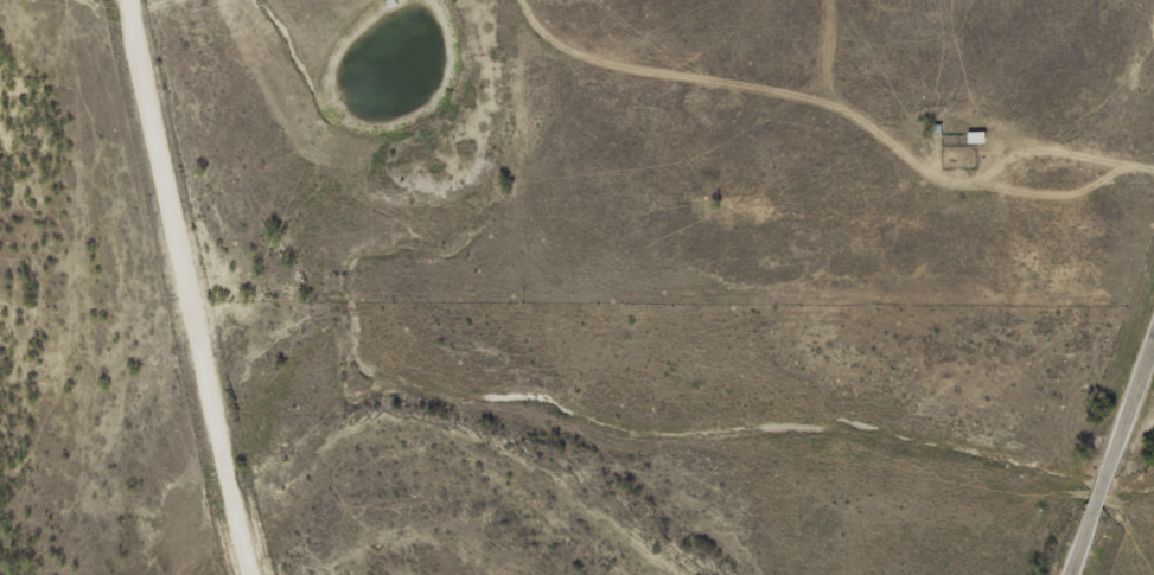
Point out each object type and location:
road: (172, 289)
road: (1131, 407)
road: (1103, 487)
road: (1084, 539)

